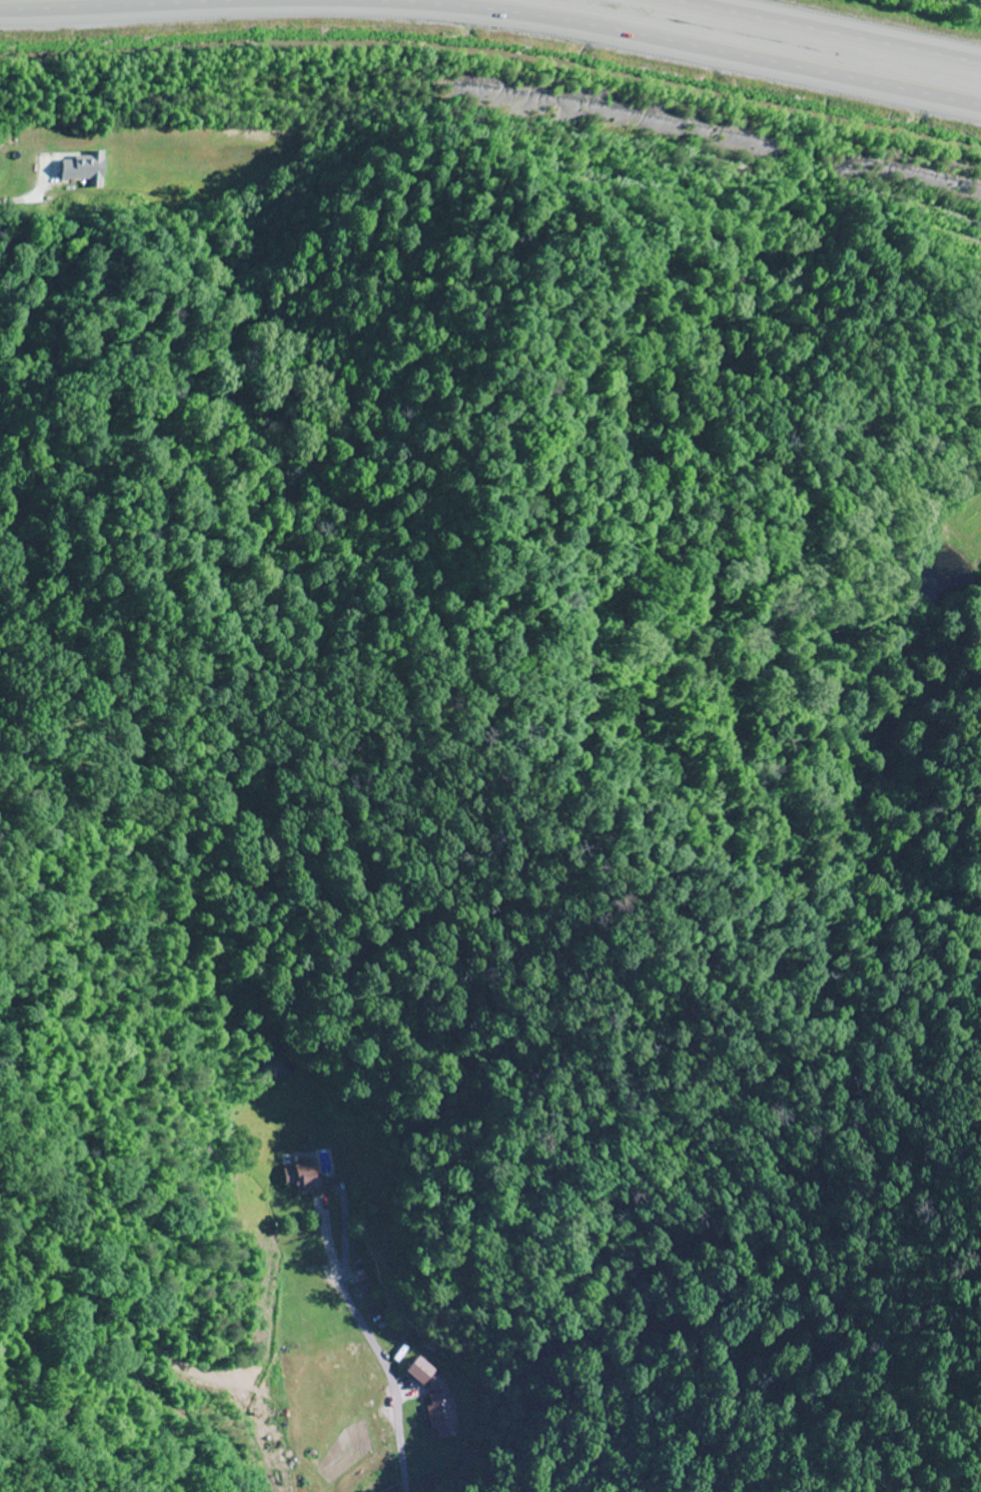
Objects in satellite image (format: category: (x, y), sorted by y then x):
road: (973, 1)
road: (494, 14)
road: (816, 33)
building: (82, 168)
building: (302, 1177)
building: (437, 1402)

